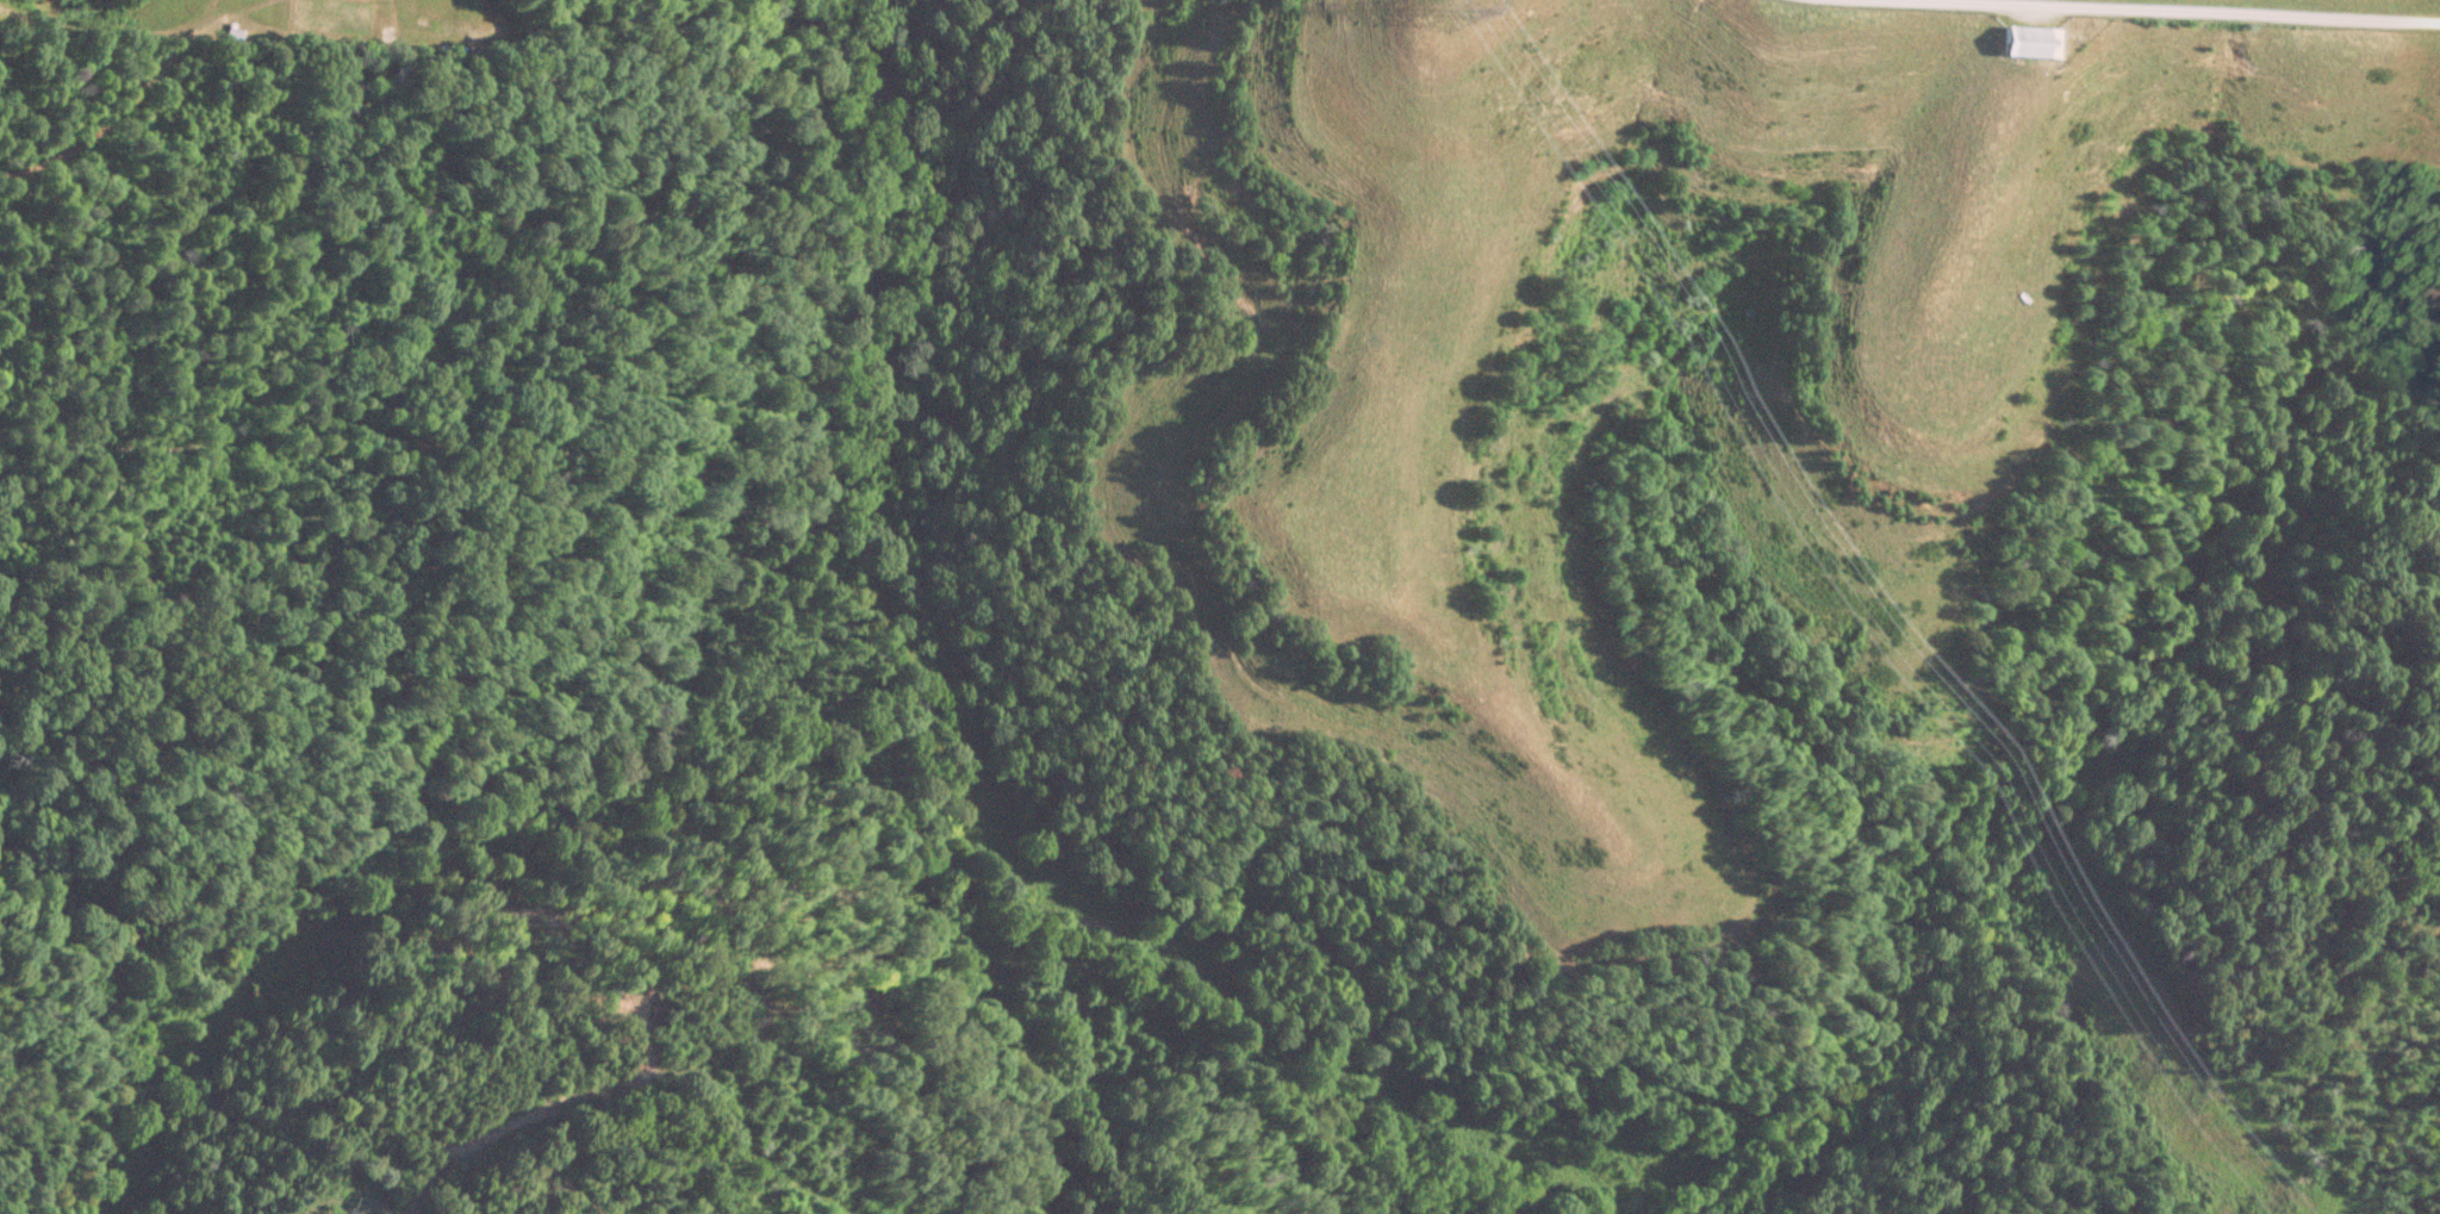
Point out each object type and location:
road: (2210, 12)
building: (2035, 41)

